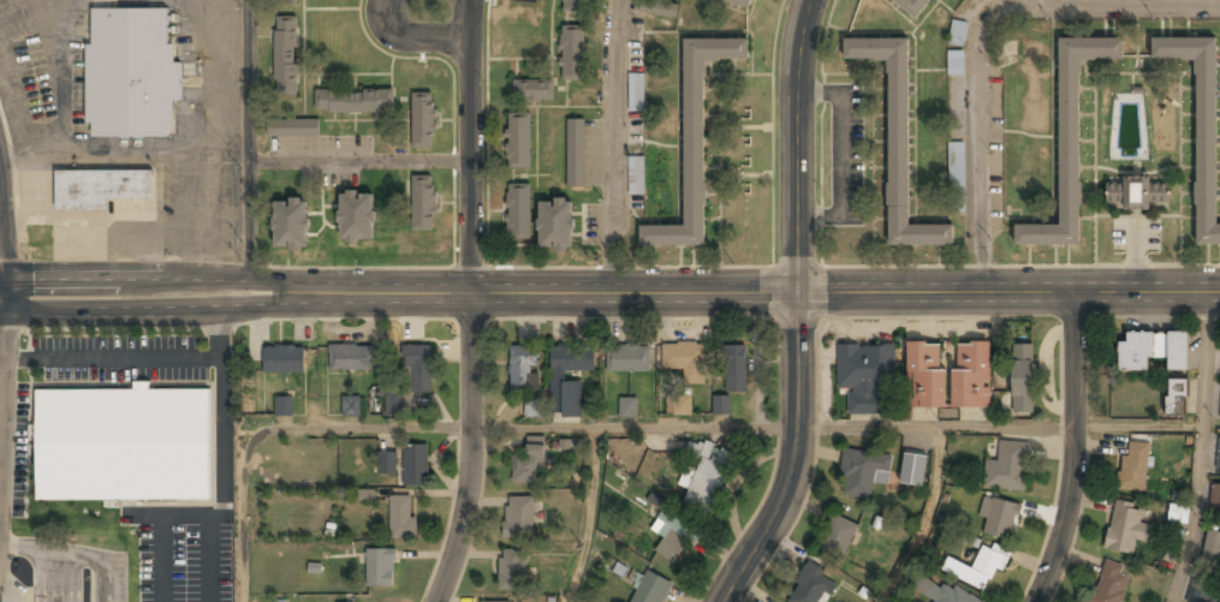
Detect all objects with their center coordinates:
building: (285, 0)
building: (740, 2)
building: (575, 6)
building: (913, 6)
building: (659, 8)
road: (412, 36)
road: (987, 41)
building: (572, 53)
building: (285, 55)
building: (954, 61)
building: (130, 73)
building: (534, 90)
building: (636, 93)
building: (353, 101)
building: (423, 120)
building: (1200, 125)
building: (293, 129)
building: (518, 141)
building: (897, 141)
building: (694, 142)
building: (1069, 142)
road: (249, 145)
road: (621, 145)
building: (576, 154)
road: (361, 160)
building: (956, 163)
building: (636, 174)
building: (100, 189)
building: (1137, 193)
building: (422, 203)
building: (518, 211)
building: (356, 217)
building: (290, 225)
building: (555, 225)
road: (609, 292)
road: (471, 303)
road: (795, 309)
building: (1153, 350)
building: (351, 357)
building: (627, 358)
building: (572, 359)
building: (685, 359)
building: (284, 360)
building: (733, 368)
building: (522, 369)
building: (864, 375)
building: (947, 377)
building: (1022, 379)
building: (411, 380)
building: (1177, 397)
building: (571, 399)
building: (284, 405)
building: (679, 405)
building: (720, 405)
building: (351, 407)
building: (531, 407)
building: (627, 407)
road: (1001, 425)
road: (439, 428)
building: (121, 443)
road: (1204, 448)
road: (1073, 449)
building: (1218, 457)
building: (386, 463)
building: (415, 465)
building: (528, 465)
building: (1133, 466)
building: (1007, 467)
building: (913, 470)
building: (862, 472)
building: (707, 482)
building: (1215, 500)
building: (1178, 513)
building: (519, 515)
road: (589, 515)
building: (401, 517)
building: (999, 517)
road: (928, 518)
building: (1126, 528)
building: (673, 535)
building: (837, 535)
building: (1212, 549)
building: (380, 567)
building: (976, 567)
building: (512, 568)
building: (1111, 583)
building: (811, 585)
building: (649, 588)
road: (11, 589)
building: (939, 590)
building: (1204, 594)
building: (495, 601)

